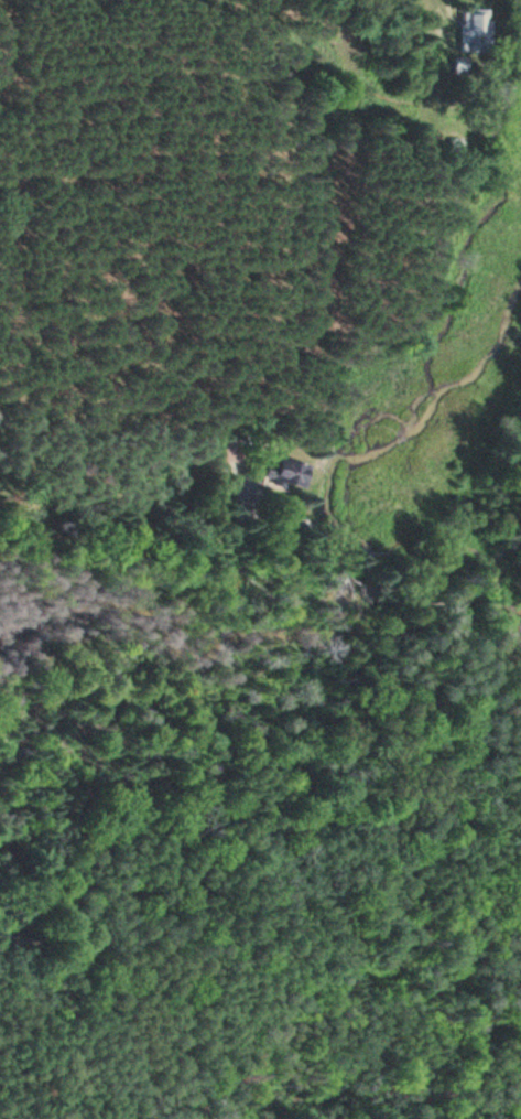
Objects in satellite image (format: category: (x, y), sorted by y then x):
building: (470, 32)
building: (282, 474)
road: (468, 596)

